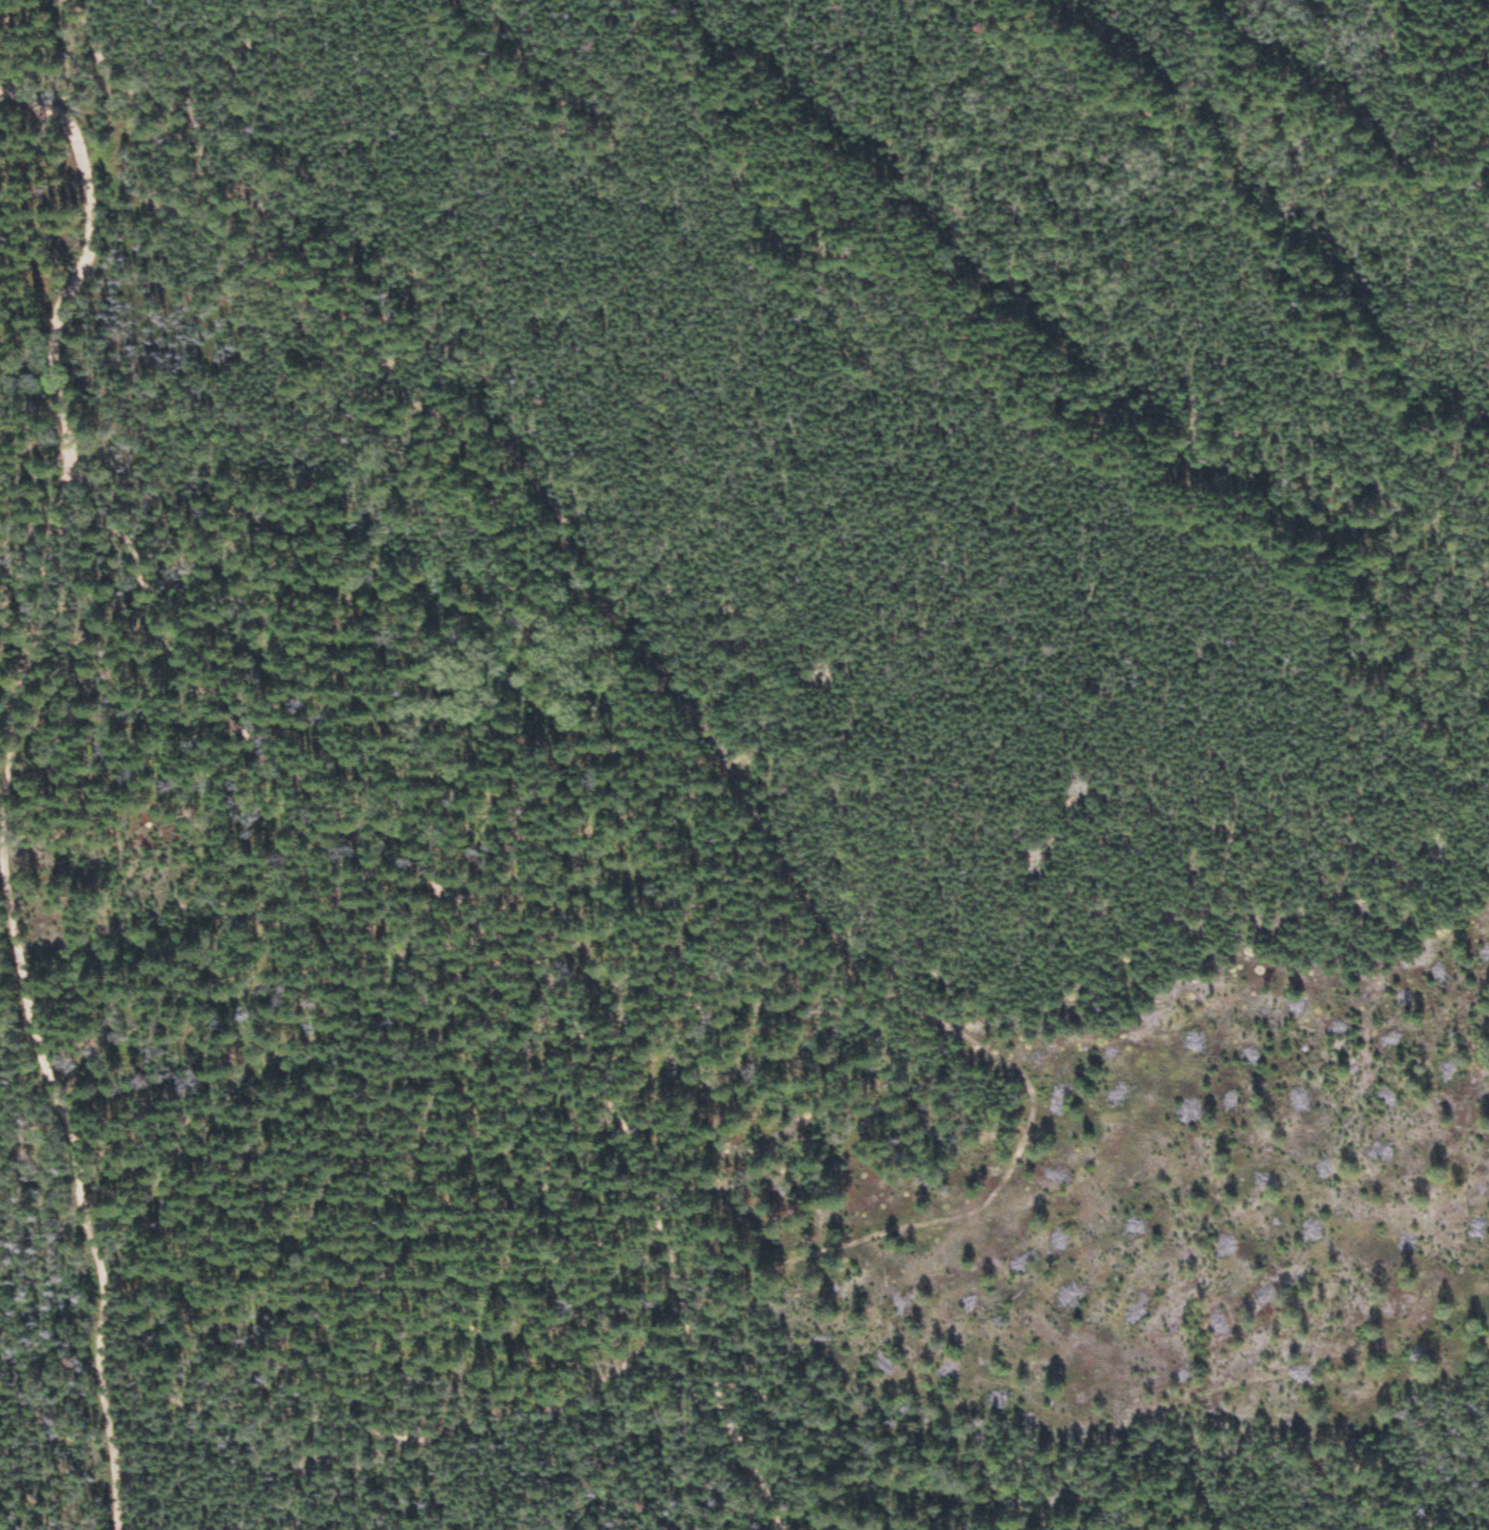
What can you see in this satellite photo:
road: (41, 104)
road: (68, 455)
road: (510, 939)
road: (74, 1171)
road: (1340, 1411)

